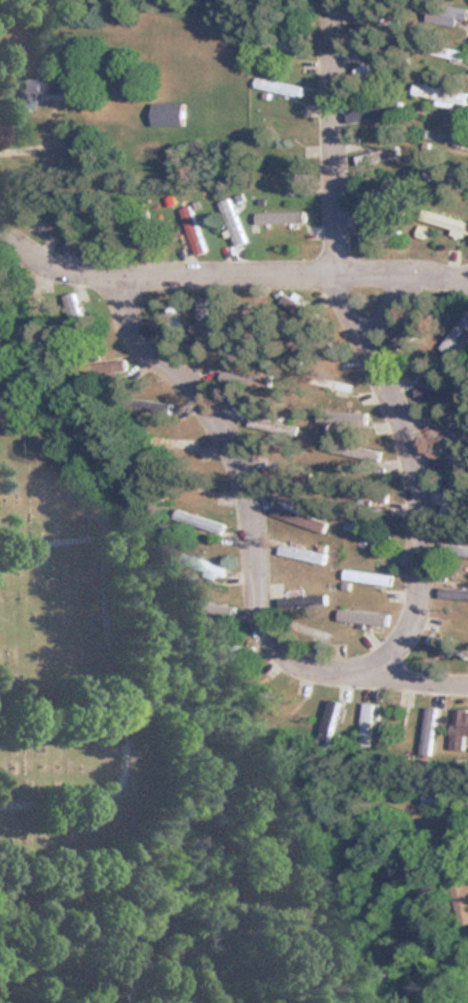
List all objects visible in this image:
building: (453, 15)
building: (366, 28)
building: (445, 51)
building: (276, 87)
building: (36, 89)
building: (439, 94)
building: (166, 114)
road: (332, 136)
building: (444, 136)
building: (438, 176)
building: (277, 186)
building: (375, 197)
building: (276, 216)
building: (145, 221)
building: (444, 221)
building: (231, 222)
building: (191, 230)
road: (233, 272)
building: (75, 310)
building: (201, 323)
building: (408, 329)
building: (456, 331)
building: (295, 341)
building: (238, 379)
building: (340, 387)
building: (360, 452)
road: (409, 477)
road: (243, 489)
building: (452, 512)
building: (297, 517)
park: (54, 546)
building: (455, 550)
building: (367, 577)
building: (455, 592)
building: (301, 600)
building: (356, 616)
road: (412, 681)
building: (366, 726)
building: (427, 731)
building: (460, 733)
building: (461, 902)

